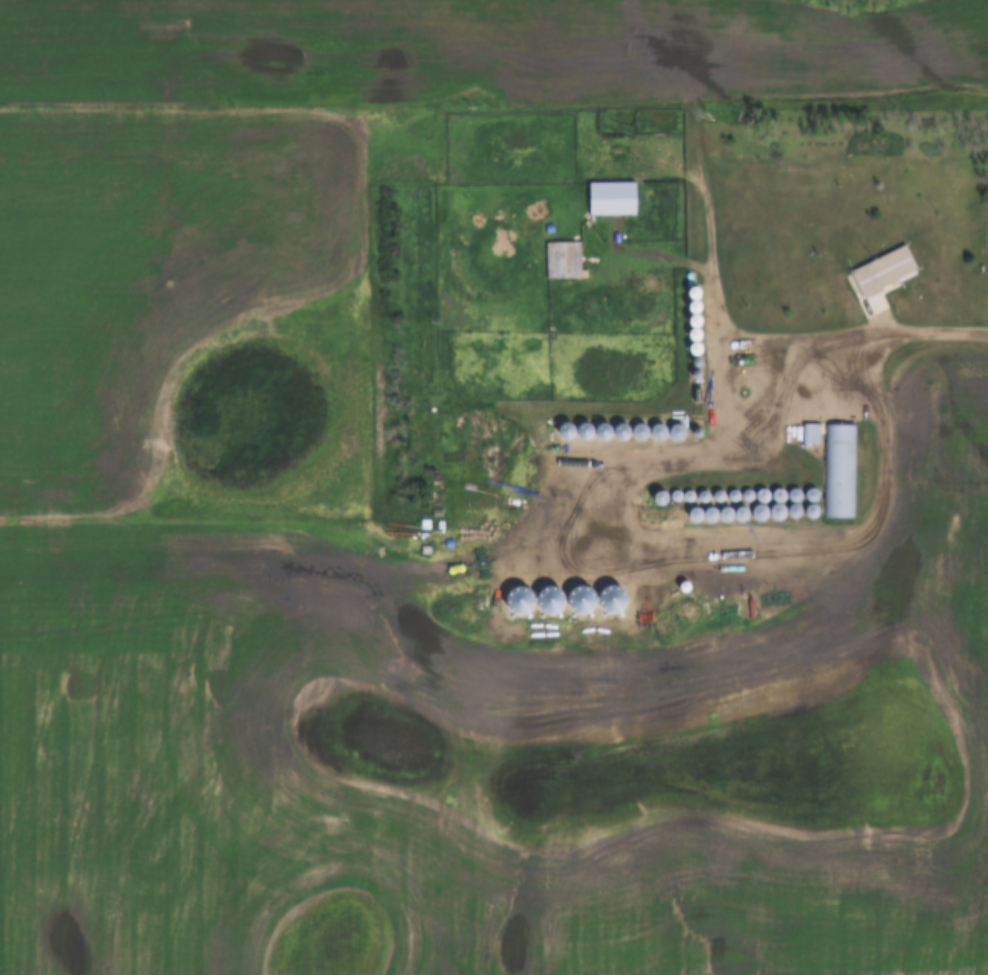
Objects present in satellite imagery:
building: (610, 197)
building: (562, 259)
building: (882, 271)
road: (873, 335)
building: (838, 471)

